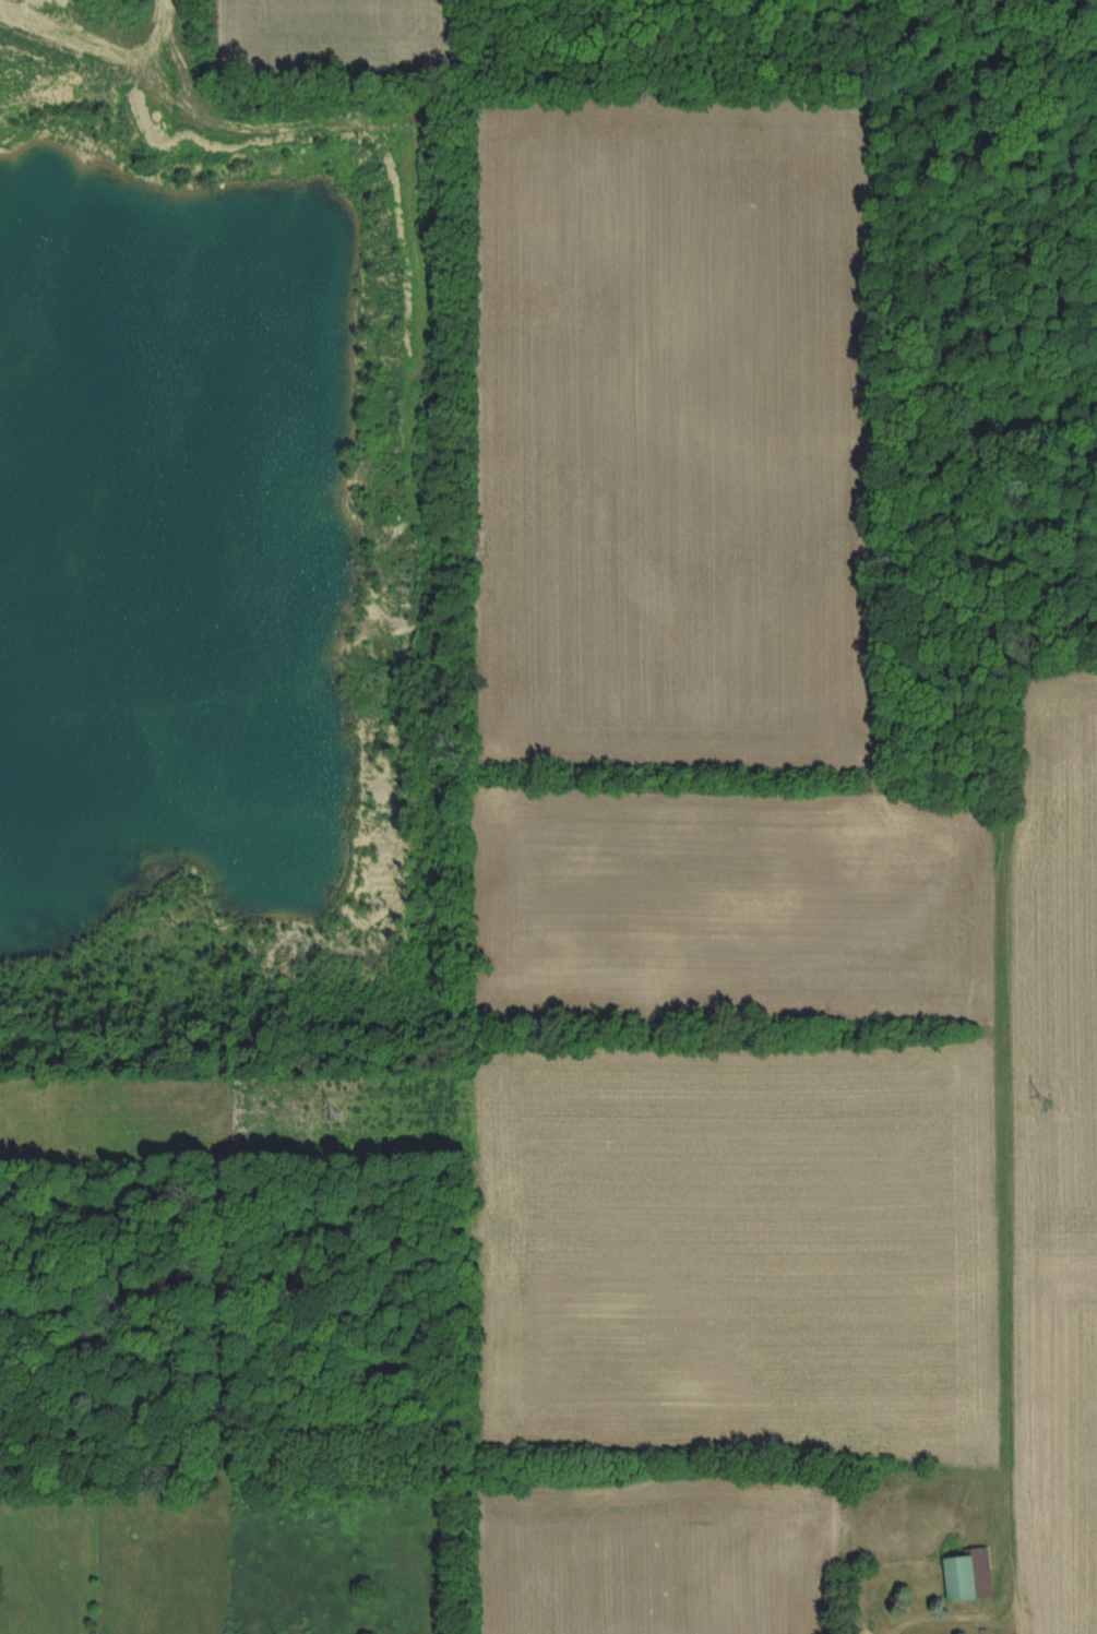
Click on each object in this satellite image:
building: (954, 1575)

